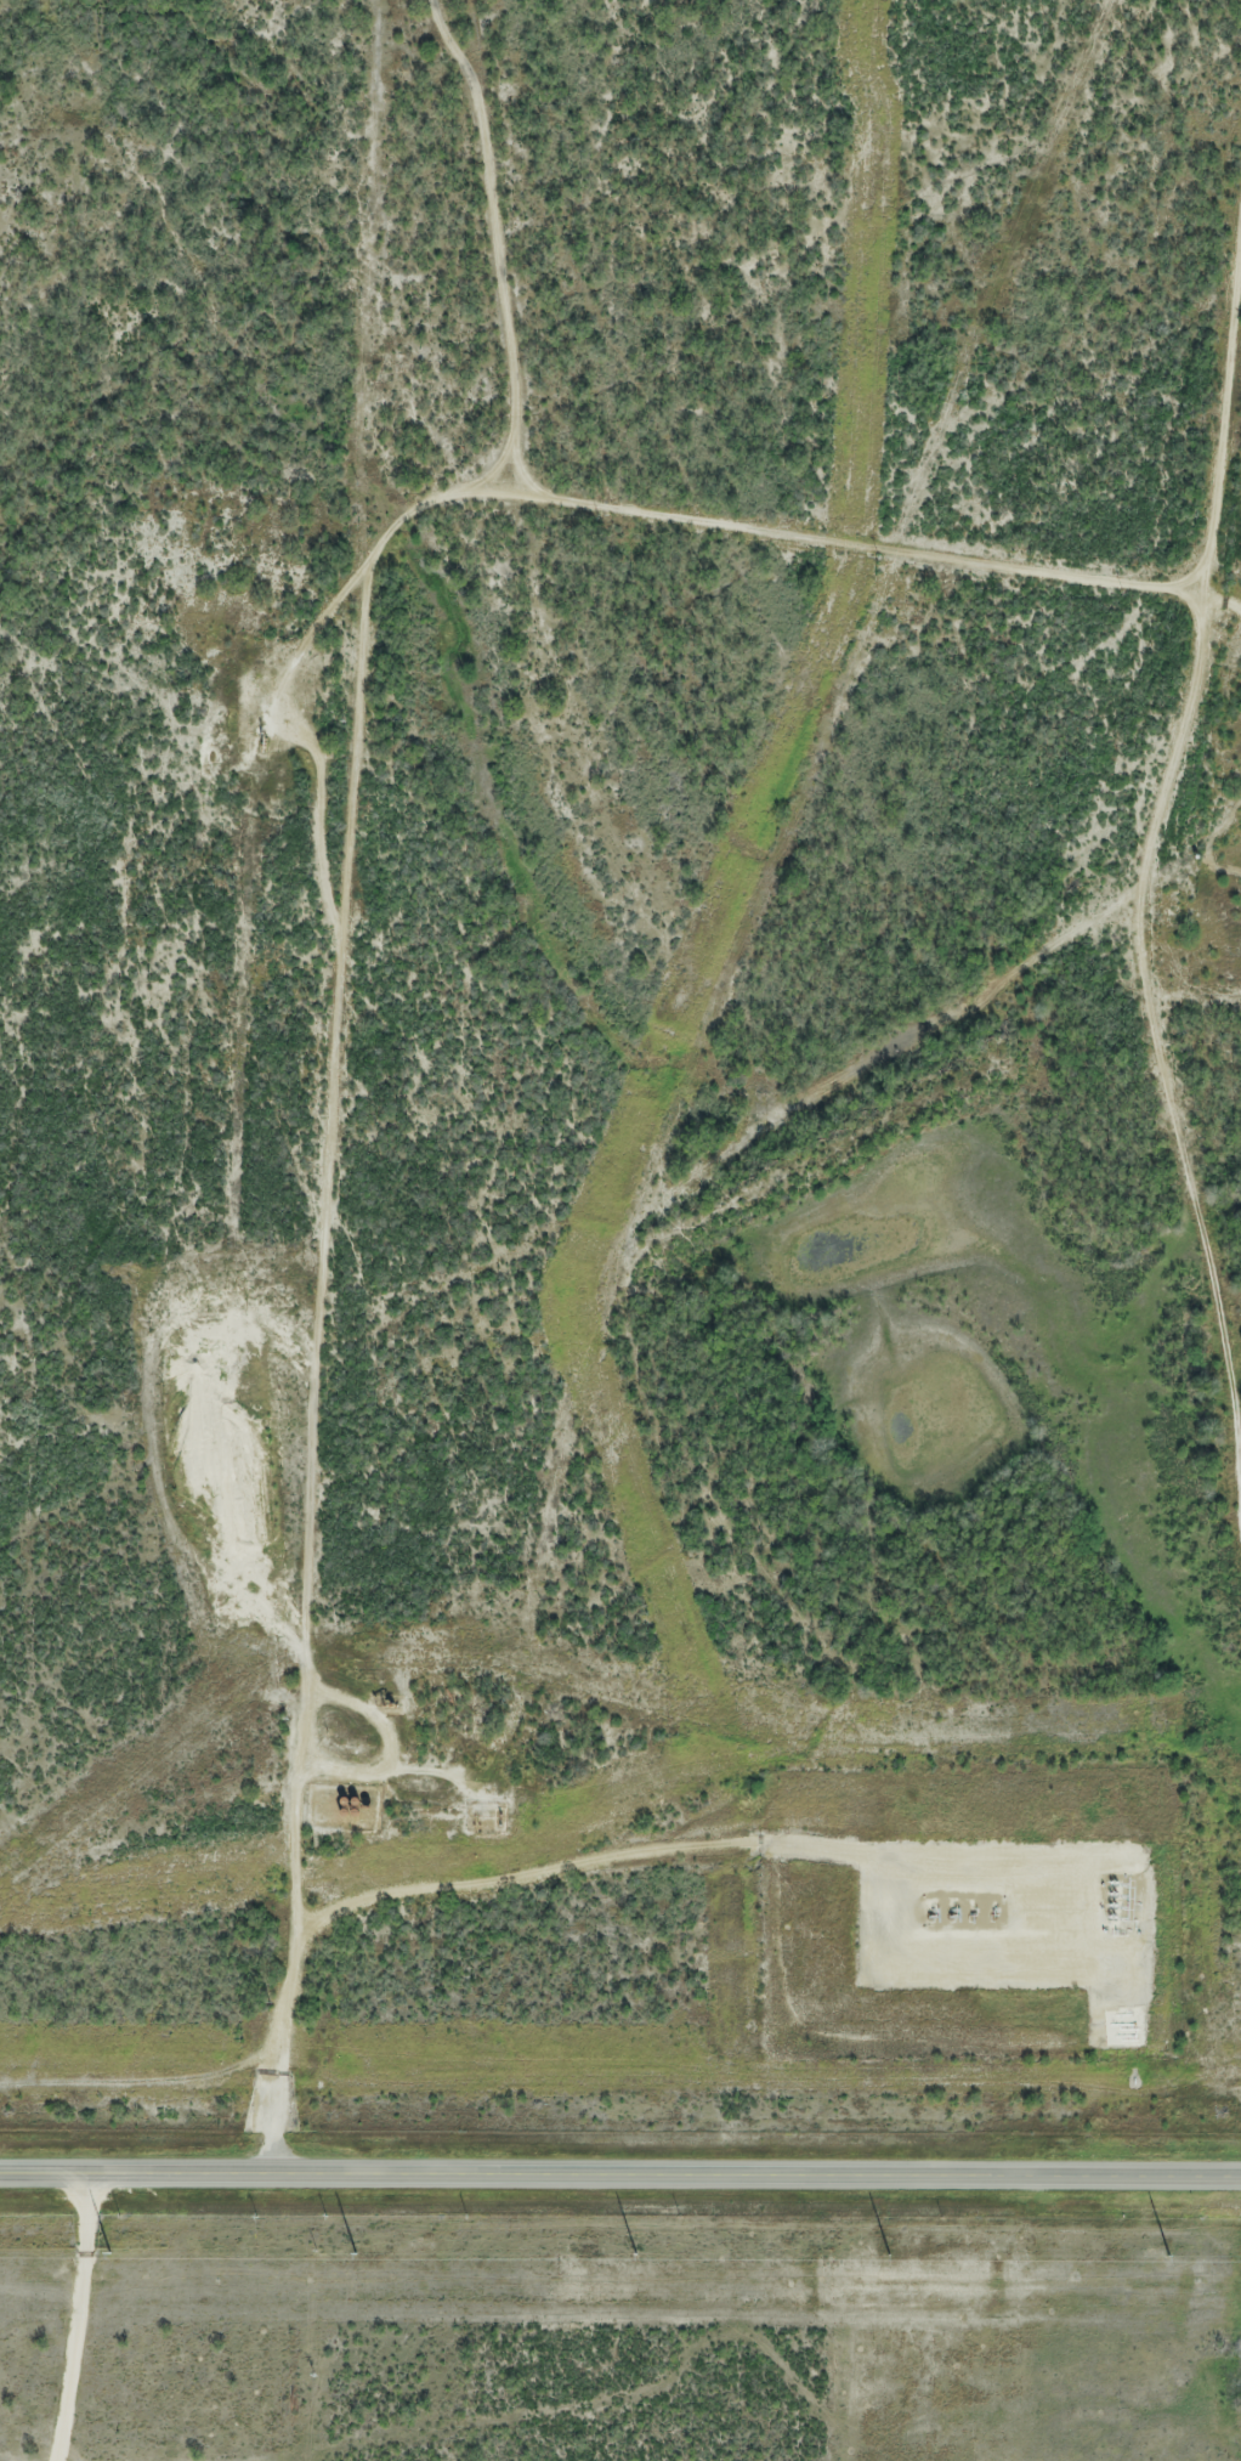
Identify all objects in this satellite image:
road: (620, 2171)
power tower: (109, 2251)
power tower: (352, 2252)
power tower: (636, 2252)
power tower: (890, 2252)
power tower: (1169, 2253)

